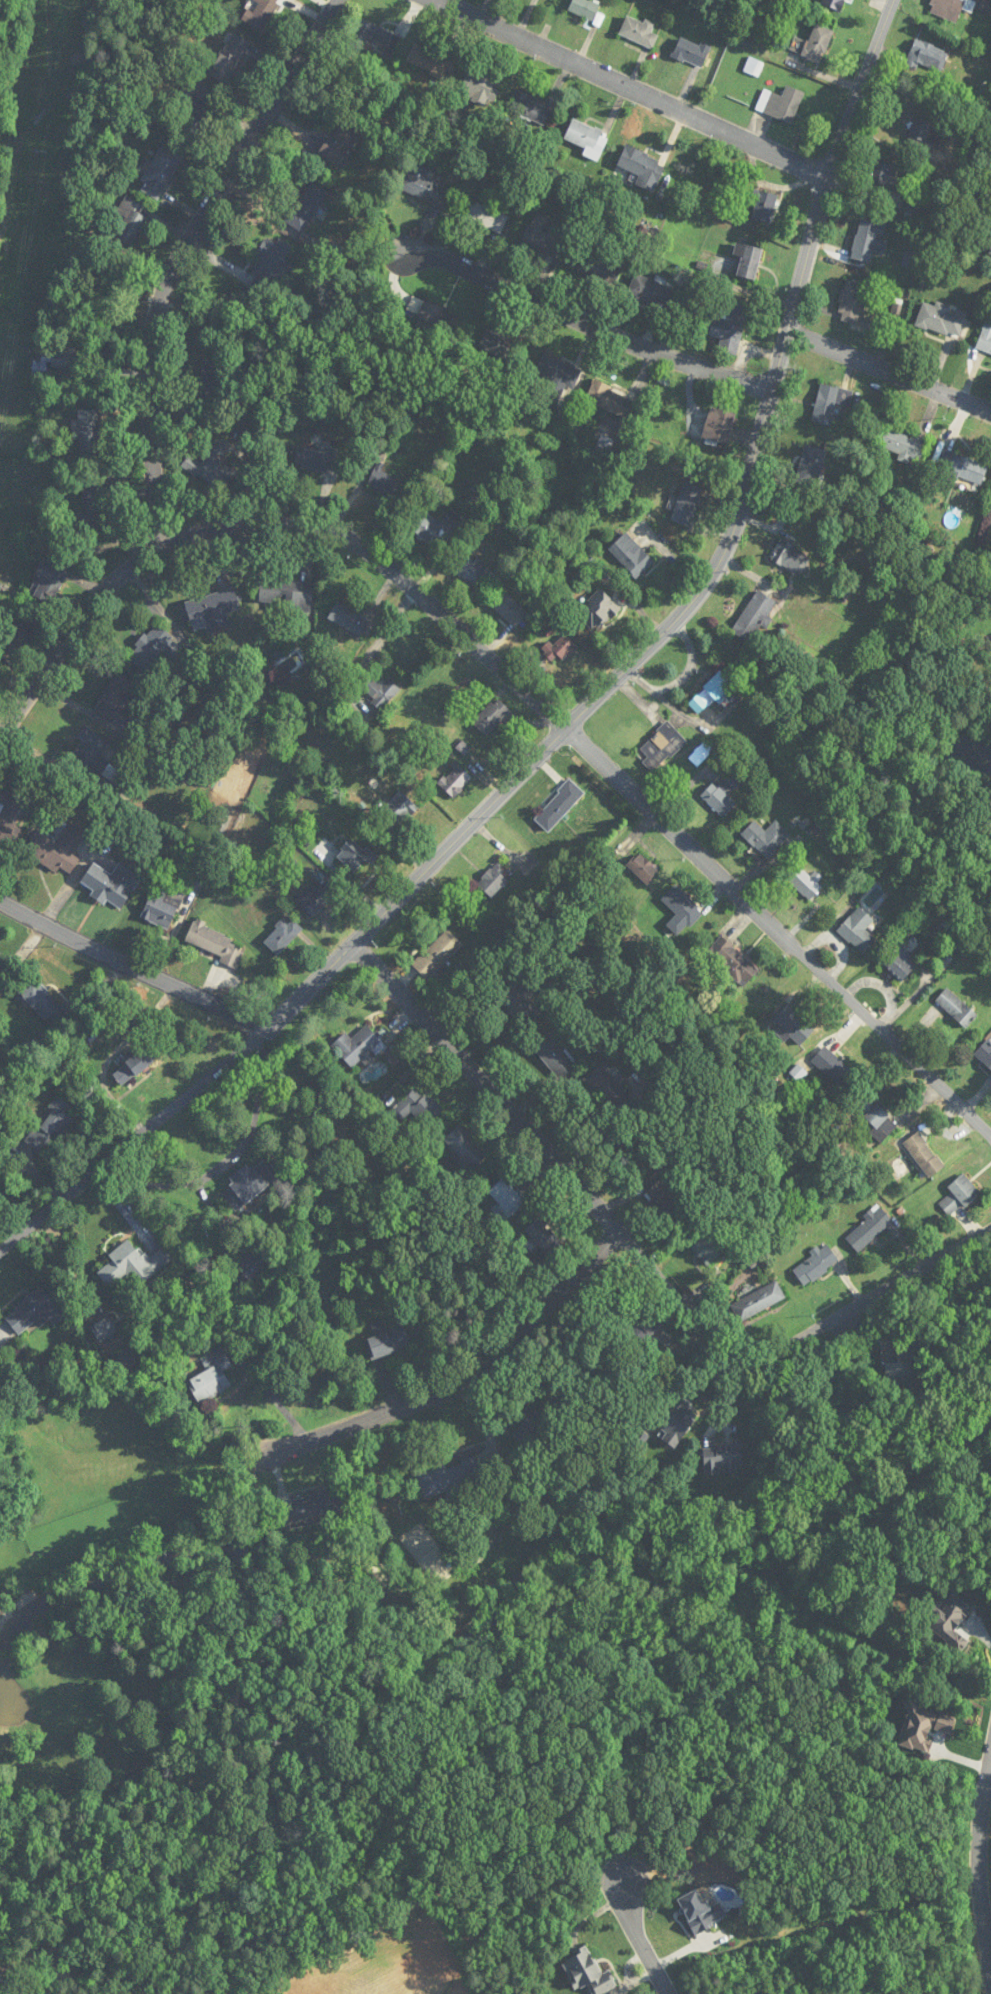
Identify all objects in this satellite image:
building: (834, 4)
building: (958, 7)
building: (584, 9)
building: (261, 13)
building: (638, 31)
building: (373, 33)
building: (814, 44)
building: (691, 52)
building: (926, 56)
building: (229, 59)
building: (428, 61)
building: (754, 67)
building: (479, 86)
road: (628, 89)
building: (780, 104)
building: (530, 109)
building: (192, 114)
building: (920, 131)
building: (586, 137)
building: (338, 143)
power tower: (43, 150)
building: (642, 167)
building: (160, 172)
building: (886, 174)
building: (424, 185)
building: (307, 206)
building: (763, 206)
building: (485, 216)
building: (130, 221)
building: (541, 236)
building: (868, 241)
road: (178, 254)
building: (274, 256)
building: (748, 263)
building: (599, 268)
building: (650, 291)
building: (851, 301)
building: (427, 313)
building: (942, 320)
road: (589, 324)
building: (729, 328)
power tower: (13, 335)
building: (985, 339)
building: (500, 346)
building: (63, 358)
road: (890, 368)
building: (39, 369)
building: (557, 378)
building: (210, 382)
building: (609, 400)
building: (830, 404)
building: (718, 428)
building: (90, 432)
building: (903, 445)
building: (810, 464)
building: (210, 467)
building: (960, 469)
building: (383, 481)
building: (90, 505)
building: (684, 510)
building: (436, 530)
building: (631, 556)
building: (790, 558)
building: (470, 571)
building: (49, 580)
building: (286, 595)
building: (212, 609)
building: (509, 610)
building: (754, 616)
building: (15, 645)
building: (154, 648)
building: (559, 650)
road: (510, 675)
building: (381, 692)
building: (710, 693)
building: (116, 700)
road: (583, 713)
building: (491, 716)
building: (662, 746)
building: (701, 752)
building: (95, 756)
building: (455, 781)
building: (721, 796)
building: (557, 806)
building: (400, 808)
building: (9, 816)
building: (766, 838)
building: (57, 851)
building: (353, 856)
building: (643, 868)
building: (492, 881)
building: (805, 884)
building: (111, 885)
building: (315, 897)
building: (160, 908)
building: (681, 911)
building: (858, 930)
building: (282, 936)
building: (212, 941)
building: (437, 954)
building: (731, 962)
building: (901, 963)
road: (133, 967)
building: (2, 976)
building: (521, 1000)
building: (43, 1004)
building: (956, 1008)
building: (793, 1025)
building: (357, 1046)
building: (985, 1053)
building: (553, 1056)
building: (133, 1067)
building: (833, 1067)
building: (608, 1087)
building: (417, 1107)
building: (875, 1117)
building: (50, 1127)
building: (464, 1148)
road: (545, 1153)
building: (923, 1155)
building: (247, 1182)
building: (959, 1195)
building: (661, 1196)
building: (507, 1197)
building: (868, 1229)
building: (543, 1237)
building: (710, 1247)
building: (254, 1262)
building: (133, 1265)
building: (815, 1265)
building: (758, 1301)
road: (864, 1303)
building: (33, 1311)
building: (104, 1329)
building: (637, 1333)
building: (386, 1340)
building: (900, 1367)
building: (211, 1376)
road: (466, 1379)
road: (274, 1394)
building: (533, 1426)
building: (677, 1426)
building: (721, 1459)
building: (449, 1477)
building: (308, 1506)
road: (979, 1871)
road: (638, 1937)

